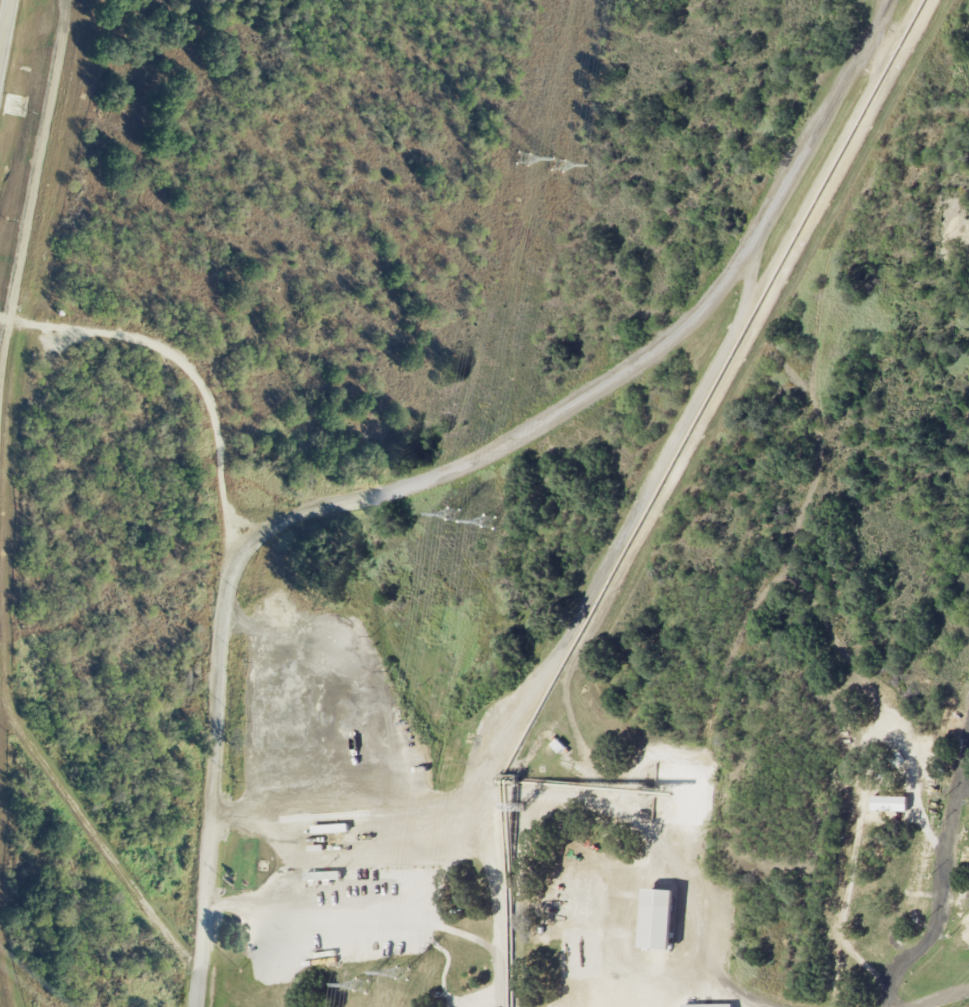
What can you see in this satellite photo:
road: (883, 7)
road: (3, 19)
power tower: (522, 160)
power tower: (557, 168)
road: (34, 180)
road: (187, 367)
road: (442, 477)
power tower: (452, 516)
power tower: (488, 524)
road: (291, 866)
building: (661, 921)
road: (496, 937)
power tower: (402, 974)
power tower: (360, 986)
road: (738, 994)
road: (943, 997)
building: (717, 1006)

